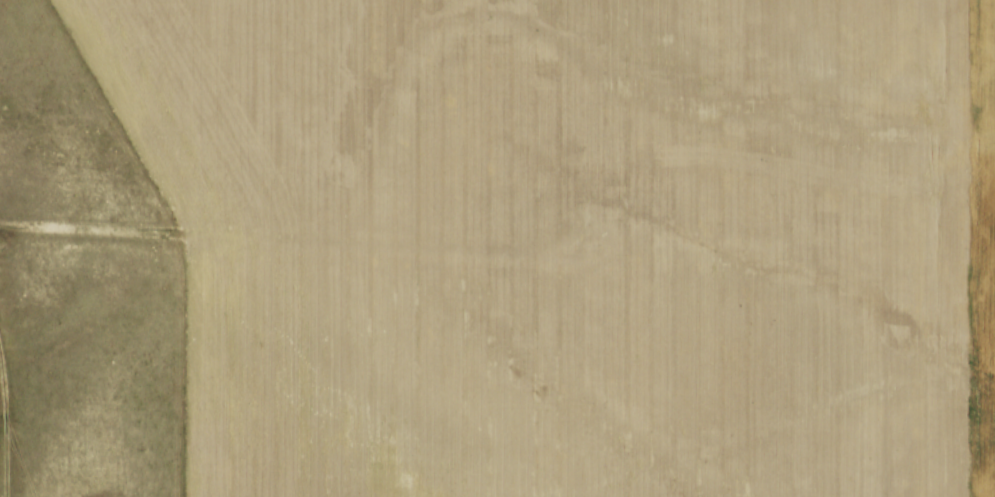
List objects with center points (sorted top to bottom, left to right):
crop: (574, 241)

